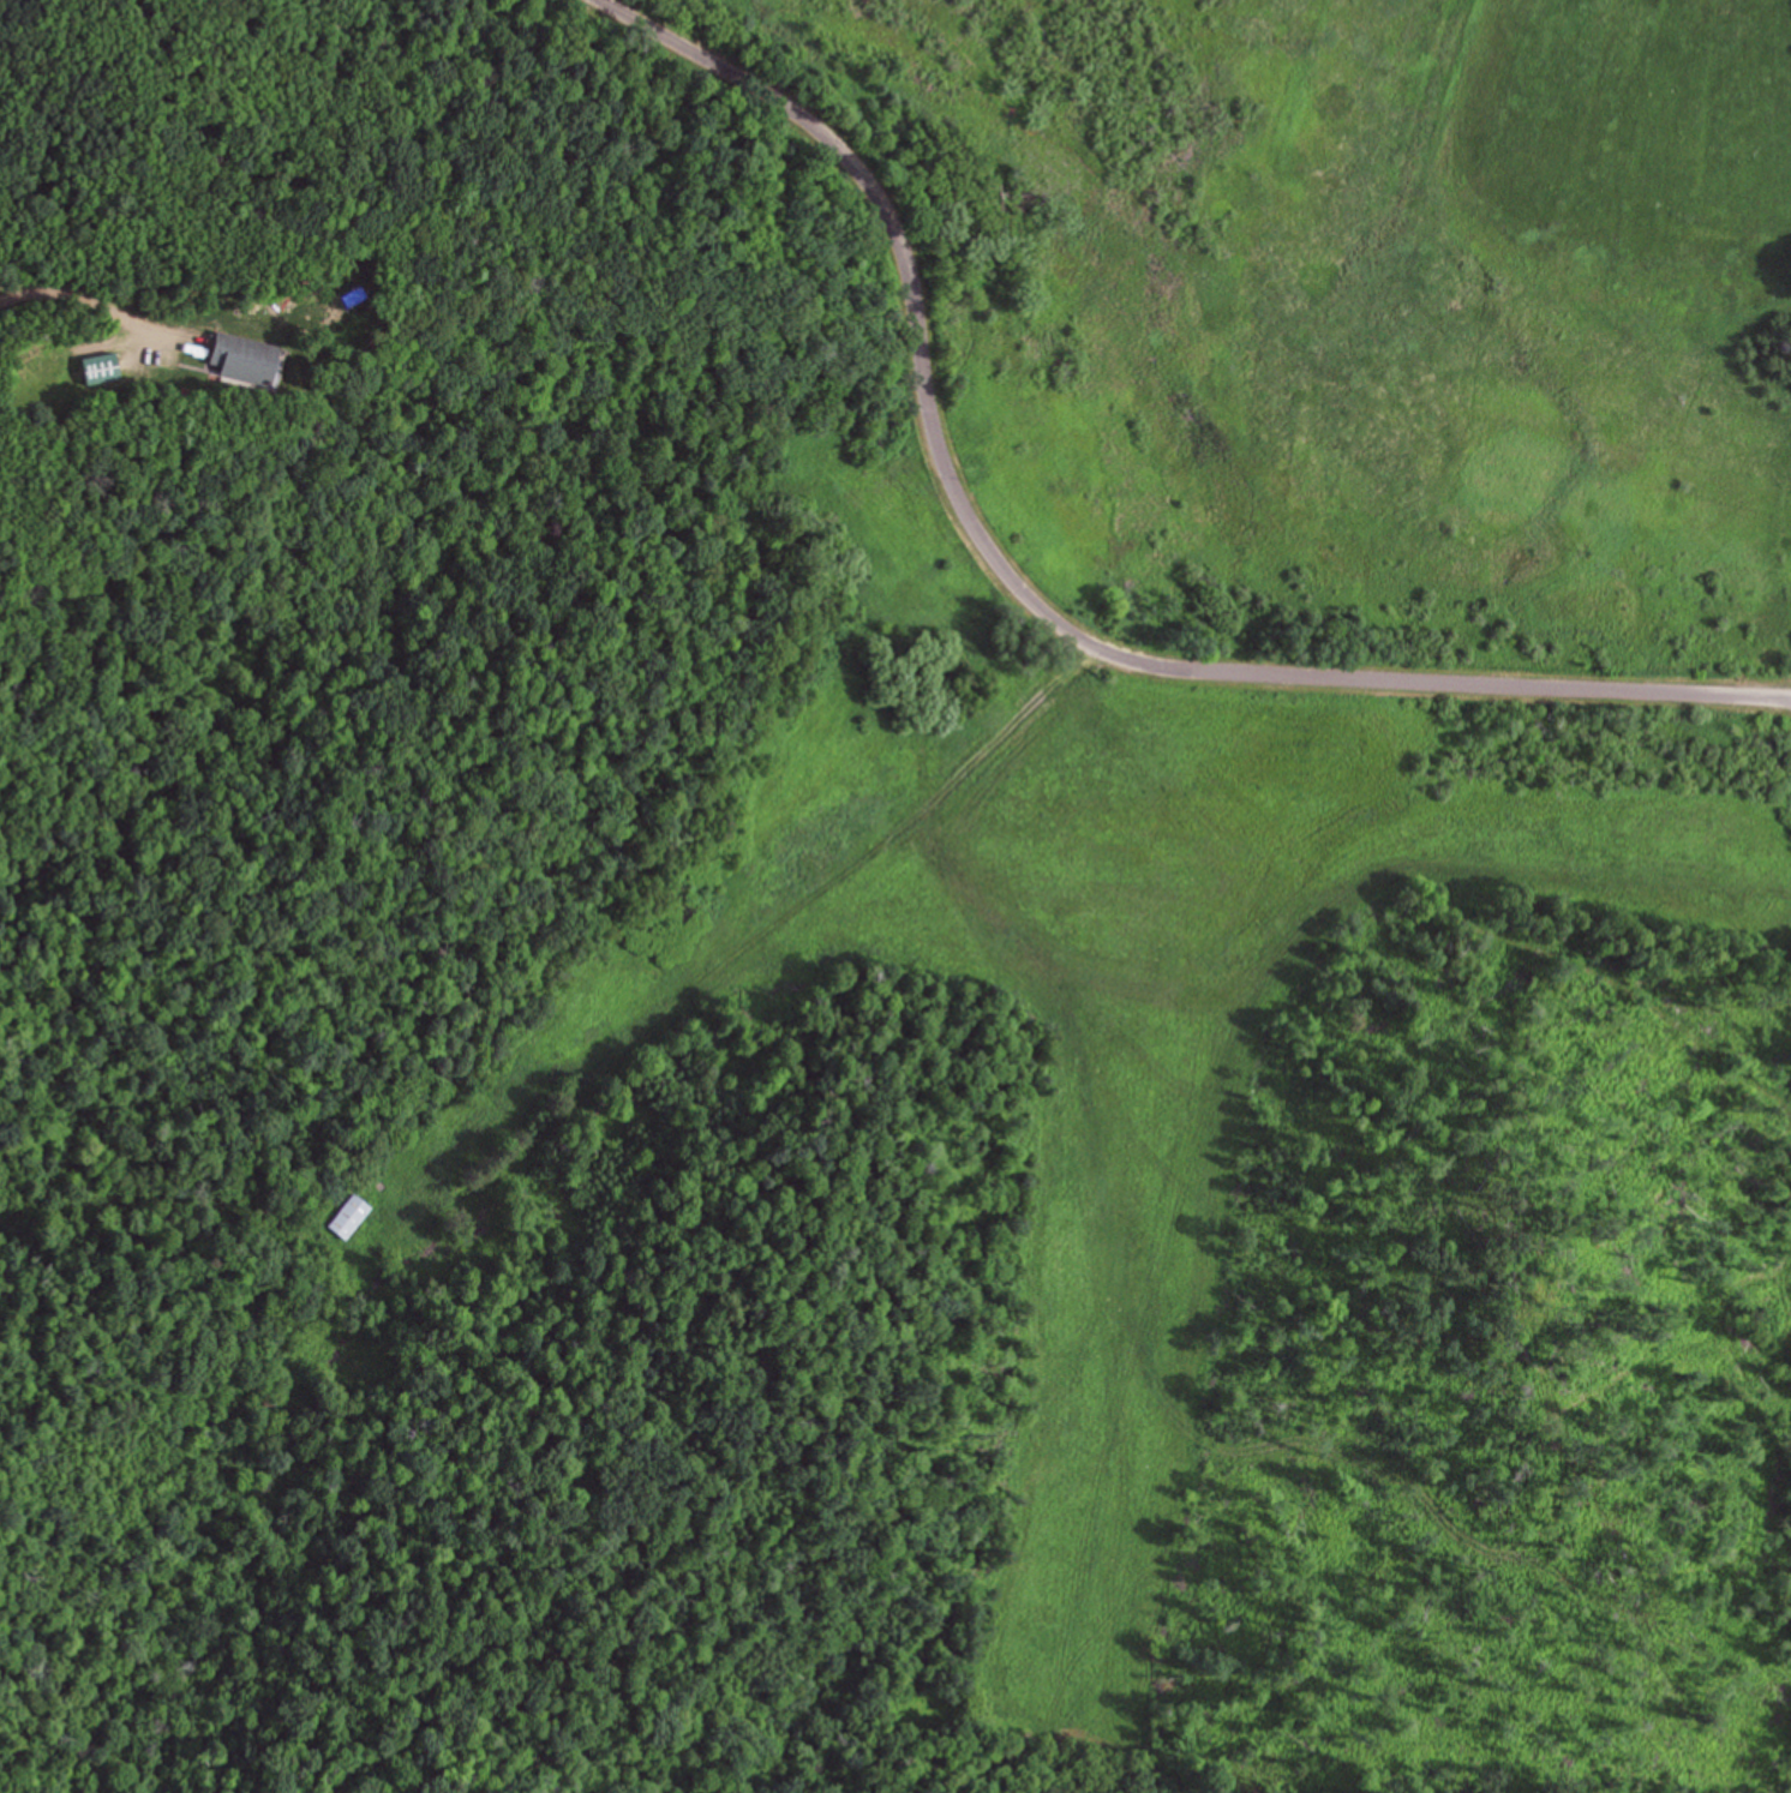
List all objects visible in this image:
crop: (655, 12)
crop: (1627, 149)
road: (94, 302)
building: (248, 359)
building: (103, 368)
road: (1035, 596)
building: (349, 1215)

